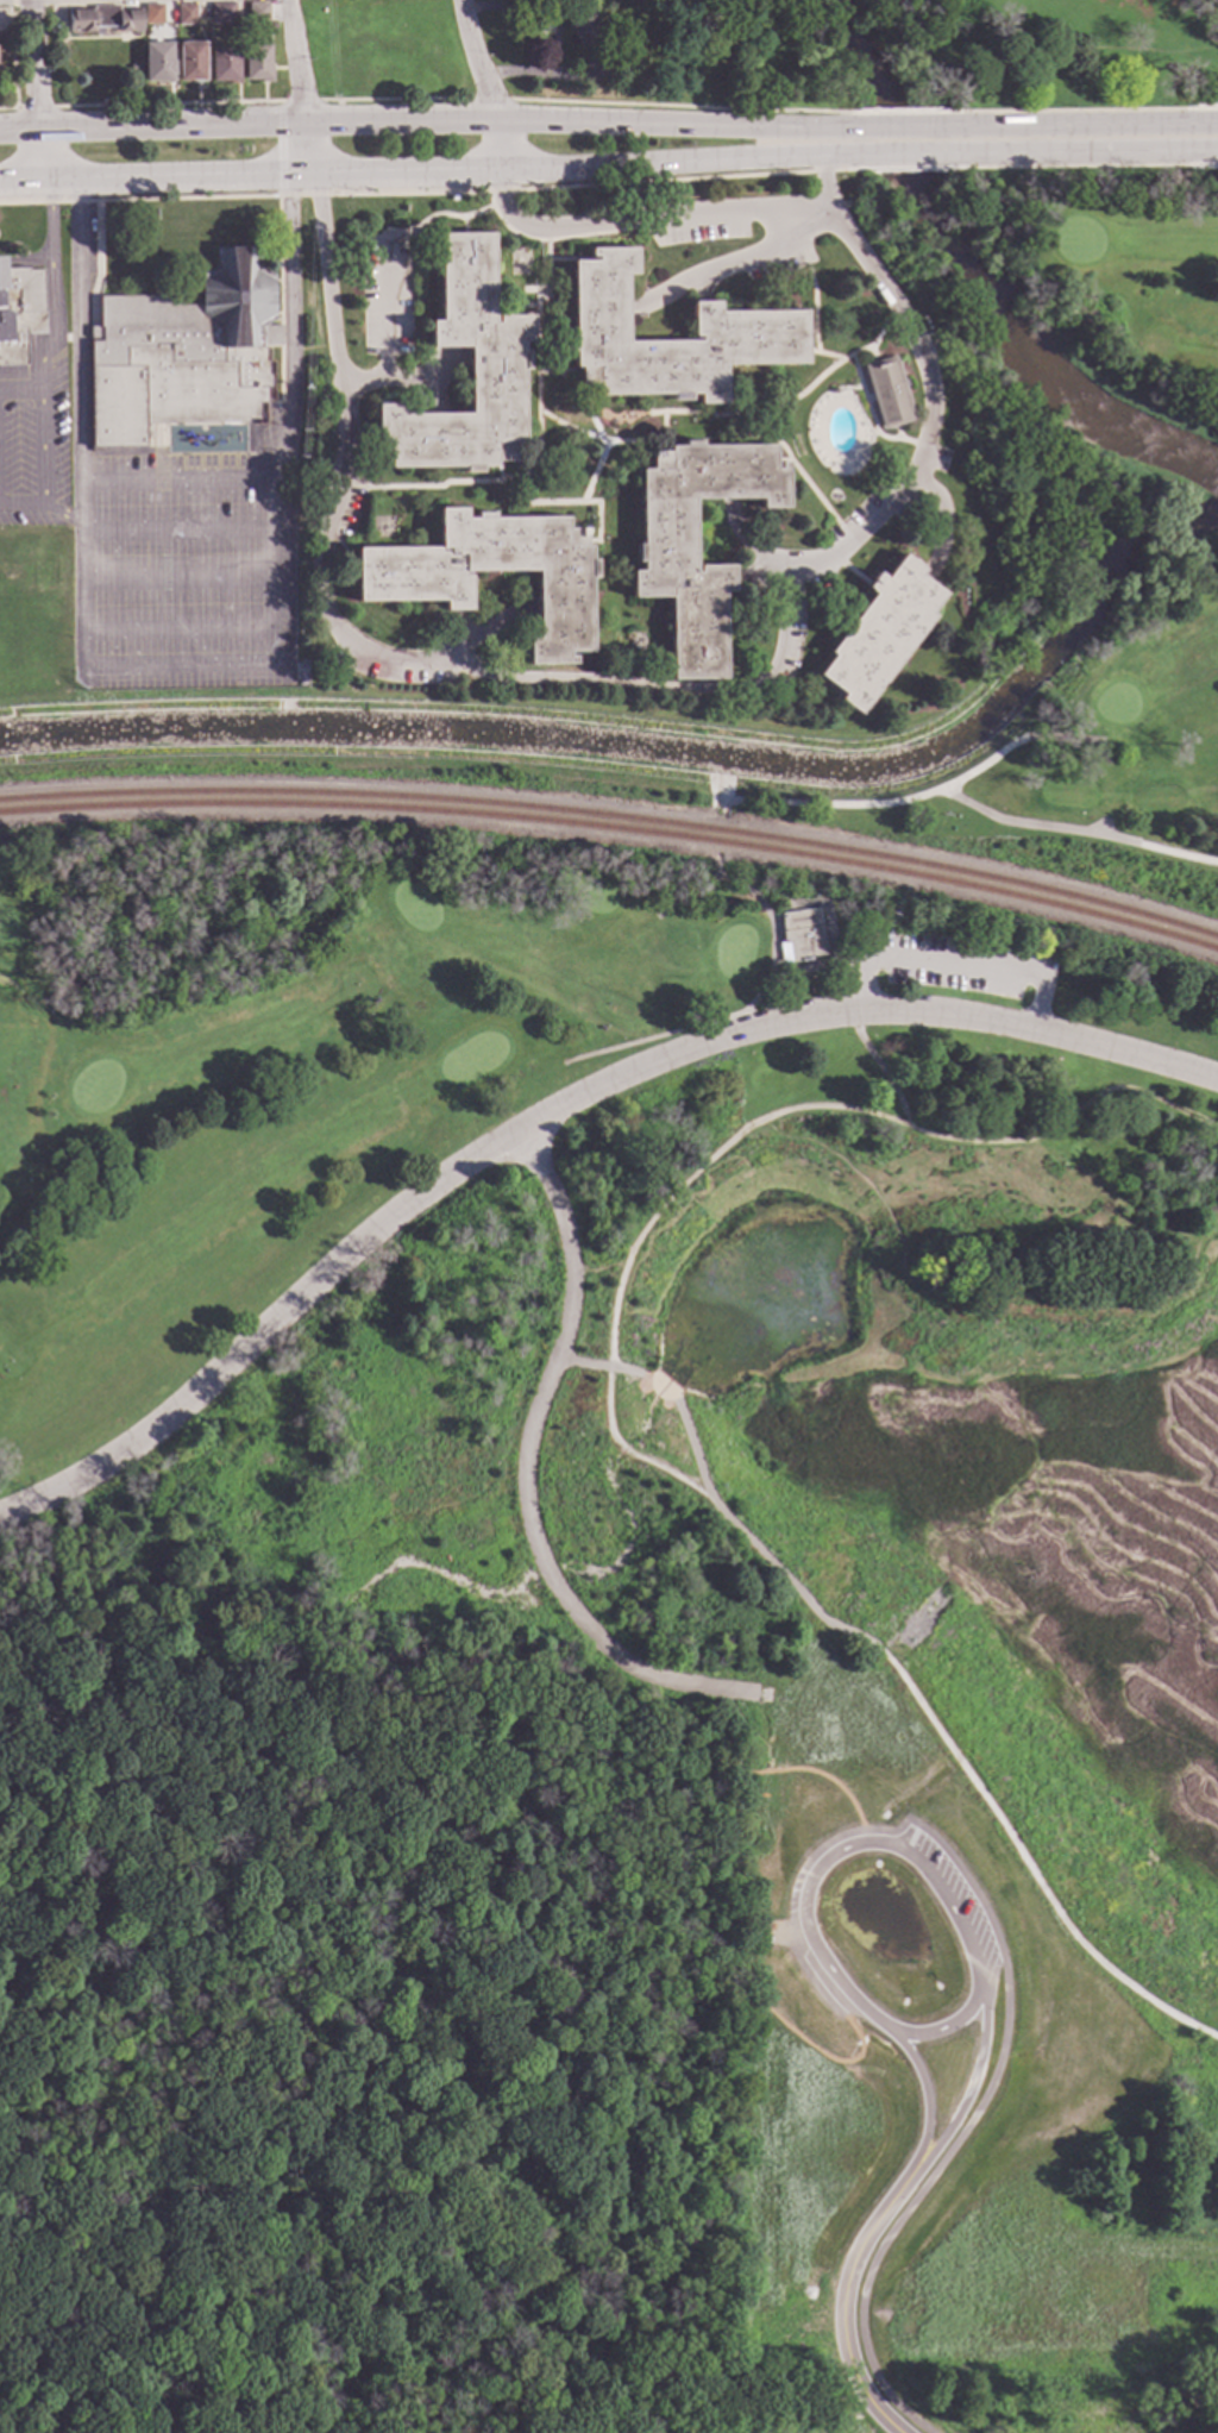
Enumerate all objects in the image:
building: (256, 13)
building: (220, 15)
building: (152, 17)
building: (184, 17)
building: (101, 21)
building: (586, 42)
road: (1038, 50)
park: (1035, 52)
building: (156, 64)
building: (189, 64)
building: (222, 65)
building: (255, 65)
road: (489, 86)
road: (304, 88)
road: (34, 92)
road: (394, 100)
road: (489, 100)
road: (301, 102)
road: (168, 105)
road: (679, 106)
road: (8, 109)
road: (36, 109)
road: (1087, 111)
road: (904, 113)
road: (425, 120)
road: (1081, 125)
road: (898, 128)
road: (278, 146)
road: (1141, 152)
road: (903, 155)
road: (1009, 155)
road: (835, 156)
road: (1099, 165)
road: (918, 168)
road: (408, 176)
road: (820, 181)
road: (428, 193)
road: (434, 214)
road: (642, 221)
parking lot: (701, 232)
road: (558, 240)
road: (799, 252)
road: (740, 263)
parking lot: (780, 264)
river: (974, 282)
road: (50, 287)
parking lot: (388, 291)
building: (19, 311)
building: (748, 324)
road: (384, 331)
road: (811, 333)
building: (183, 353)
building: (498, 360)
road: (566, 382)
road: (402, 383)
road: (17, 389)
building: (887, 393)
road: (786, 400)
road: (616, 415)
road: (868, 416)
road: (924, 416)
road: (661, 432)
road: (536, 435)
road: (596, 438)
road: (601, 451)
road: (39, 466)
road: (797, 472)
road: (433, 487)
road: (333, 502)
parking lot: (350, 513)
parking lot: (853, 518)
park: (1079, 531)
building: (666, 563)
building: (413, 589)
parking lot: (799, 622)
building: (880, 633)
road: (177, 666)
building: (302, 667)
parking lot: (394, 670)
road: (661, 688)
road: (912, 798)
railway: (614, 819)
railway: (615, 829)
road: (1078, 832)
road: (741, 889)
building: (798, 936)
road: (950, 962)
road: (697, 1026)
park: (339, 1060)
road: (878, 1068)
road: (553, 1111)
road: (1067, 1121)
road: (638, 1239)
park: (288, 1312)
park: (916, 1375)
road: (525, 1473)
road: (702, 1480)
road: (419, 1567)
road: (296, 1663)
road: (749, 1730)
road: (554, 1750)
road: (459, 1798)
road: (855, 1831)
road: (862, 1845)
road: (1015, 1849)
parking lot: (953, 1901)
road: (627, 1958)
road: (768, 1959)
road: (766, 2008)
road: (943, 2026)
road: (288, 2071)
road: (652, 2203)
road: (909, 2205)
road: (843, 2294)
road: (772, 2338)
road: (439, 2402)
road: (532, 2419)
road: (111, 2426)

